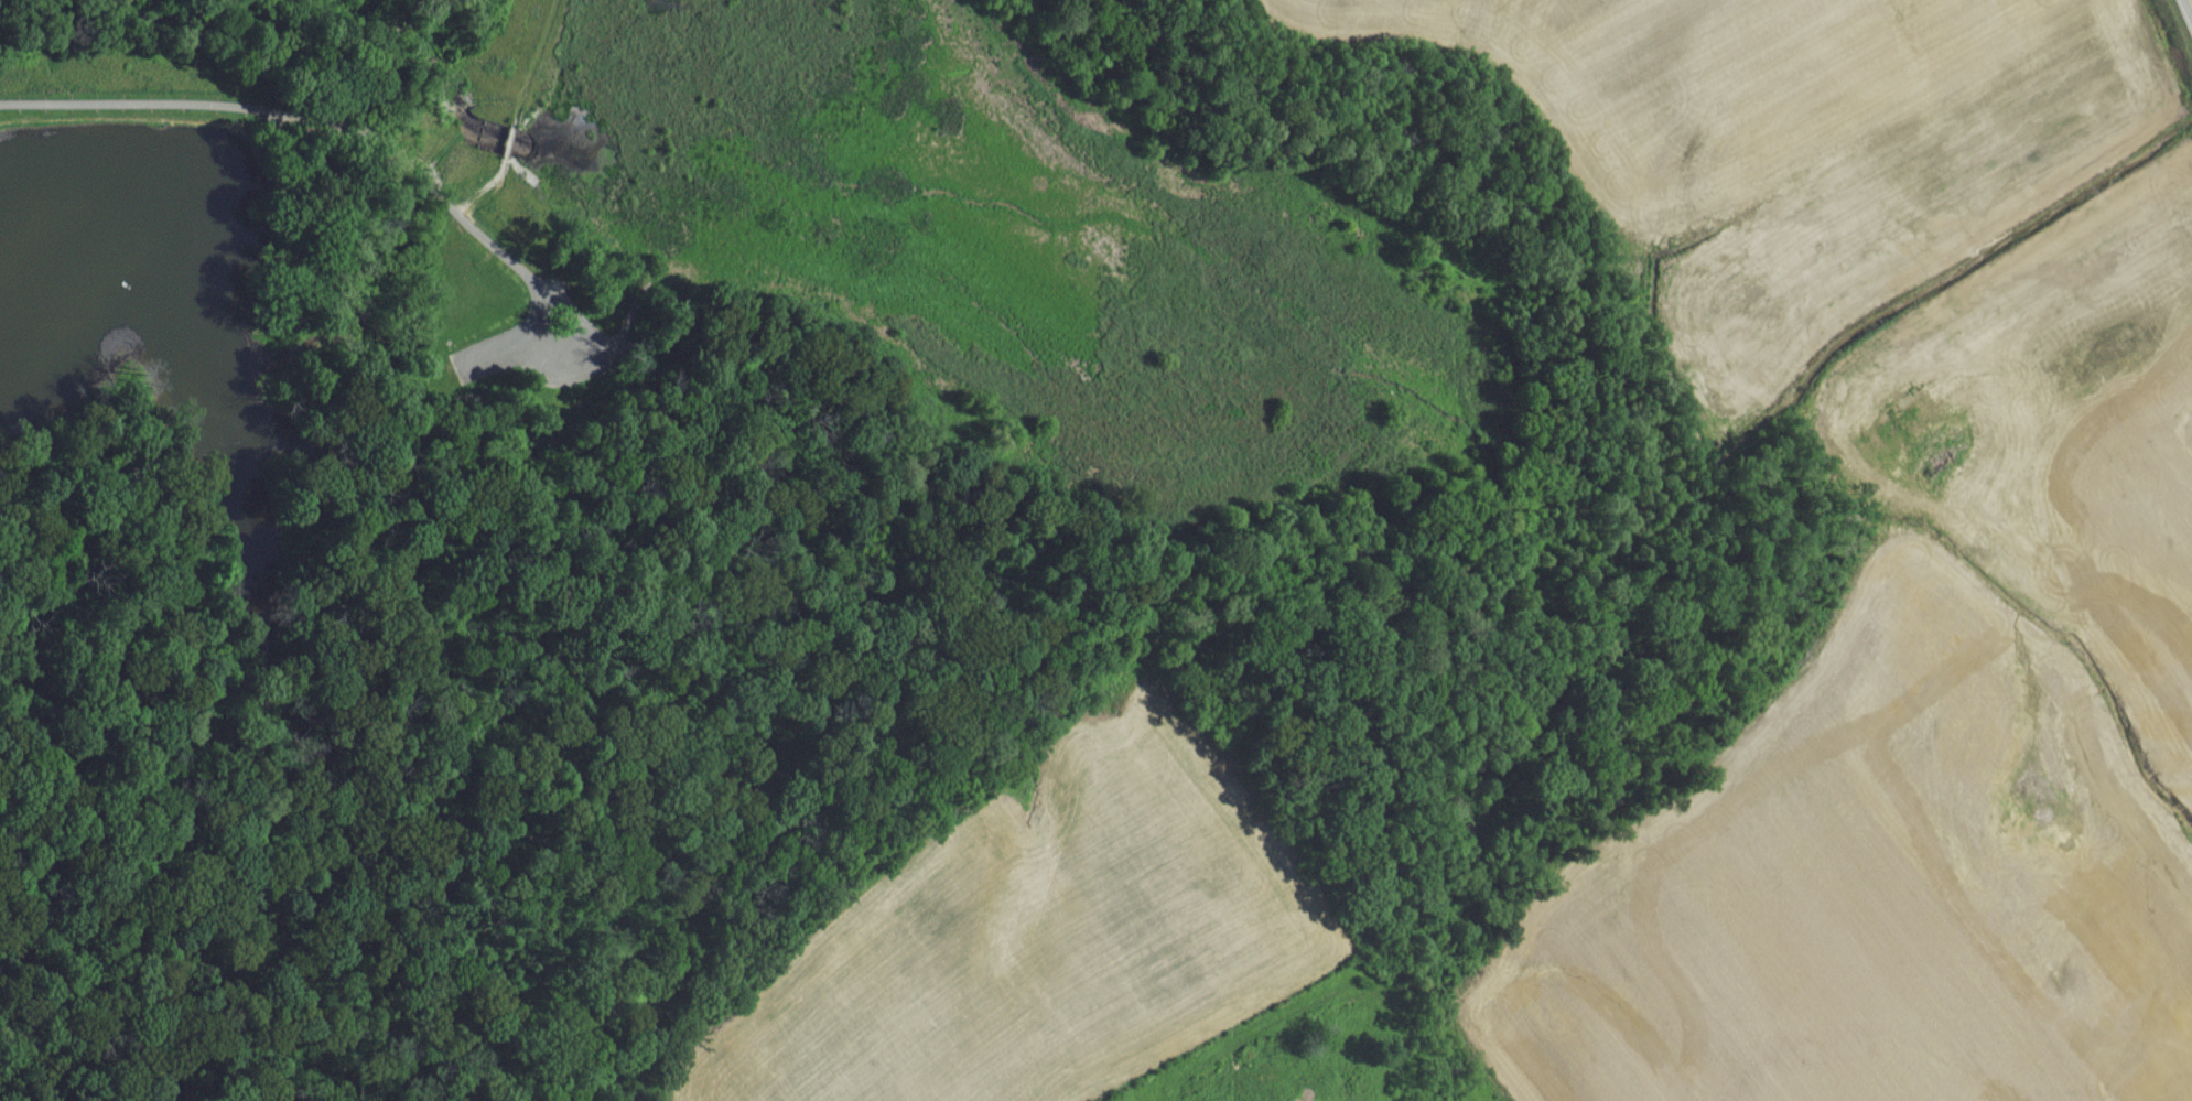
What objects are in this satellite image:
road: (2190, 6)

